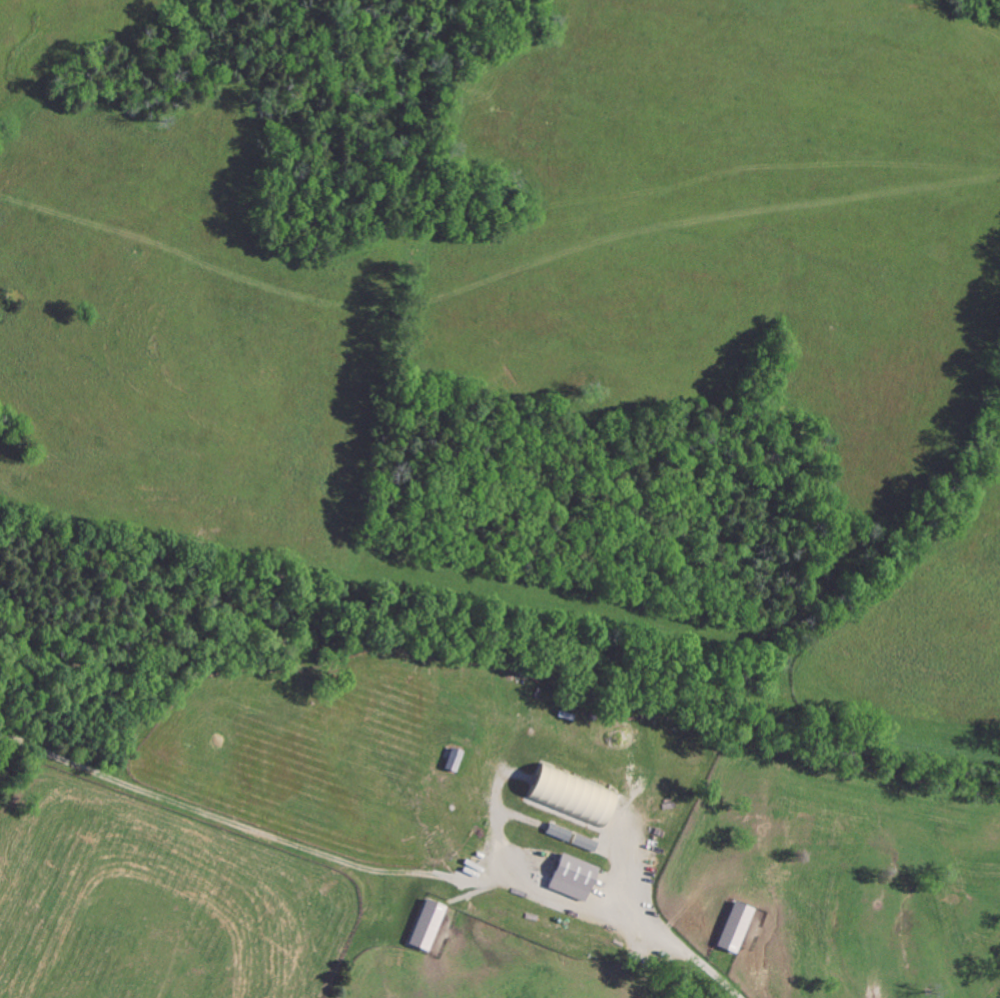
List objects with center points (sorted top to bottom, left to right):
building: (454, 760)
building: (574, 877)
building: (427, 925)
building: (736, 927)
road: (682, 948)

